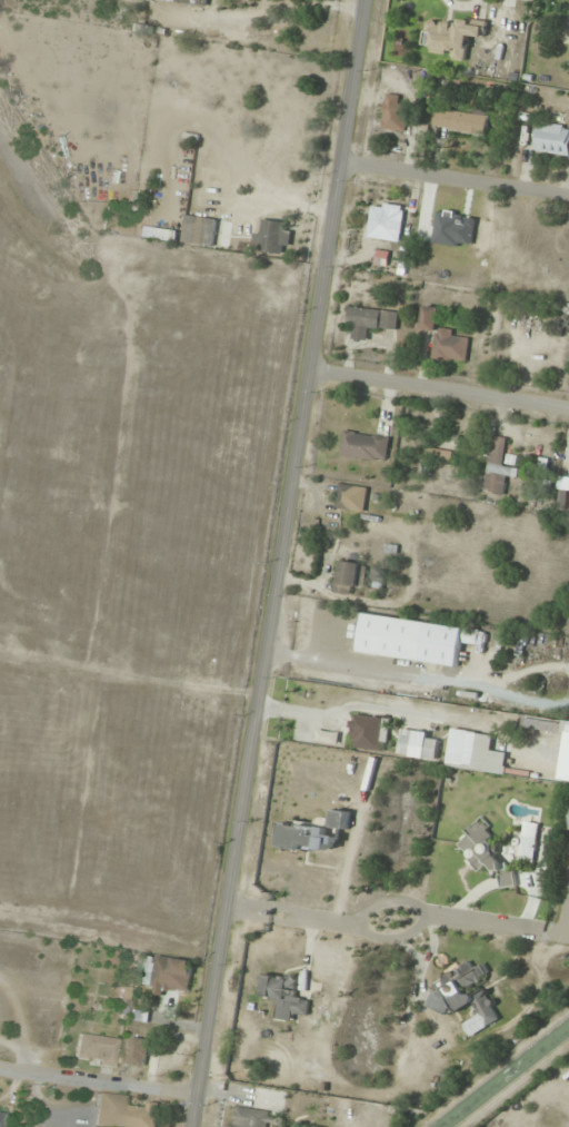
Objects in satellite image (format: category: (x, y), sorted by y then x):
building: (191, 2)
building: (453, 37)
building: (396, 113)
building: (461, 121)
building: (552, 138)
road: (457, 182)
building: (386, 221)
building: (199, 230)
building: (167, 235)
building: (273, 237)
building: (371, 320)
building: (446, 338)
road: (439, 394)
building: (366, 445)
building: (499, 468)
building: (352, 497)
road: (280, 563)
building: (349, 576)
building: (417, 639)
building: (542, 724)
building: (370, 732)
building: (328, 735)
building: (459, 745)
building: (420, 747)
building: (317, 833)
building: (530, 842)
building: (170, 973)
building: (466, 993)
building: (286, 996)
building: (97, 1048)
road: (99, 1081)
building: (124, 1111)
building: (2, 1117)
building: (251, 1117)

